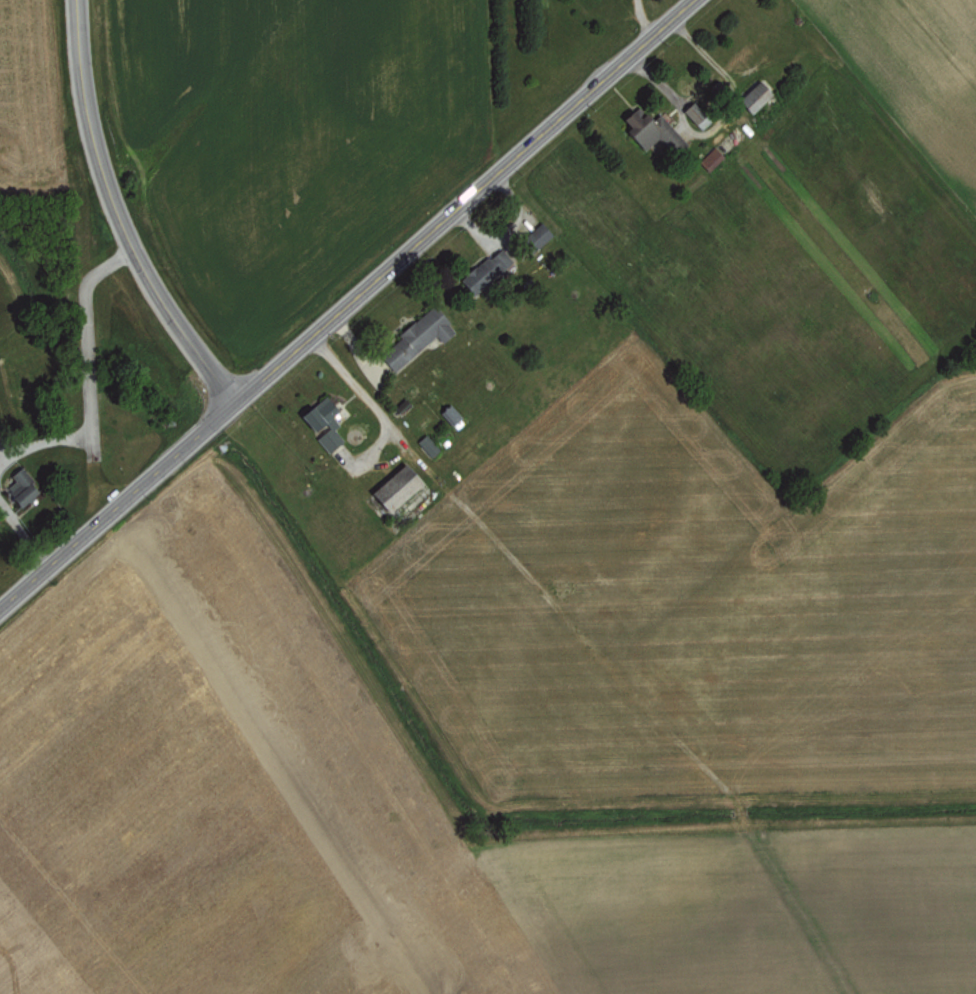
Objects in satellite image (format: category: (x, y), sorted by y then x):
road: (644, 18)
building: (754, 96)
building: (693, 111)
building: (650, 129)
building: (711, 157)
crop: (555, 168)
road: (119, 213)
building: (536, 237)
building: (485, 270)
road: (348, 304)
building: (416, 336)
road: (364, 396)
building: (323, 421)
building: (427, 444)
building: (20, 486)
building: (395, 487)

